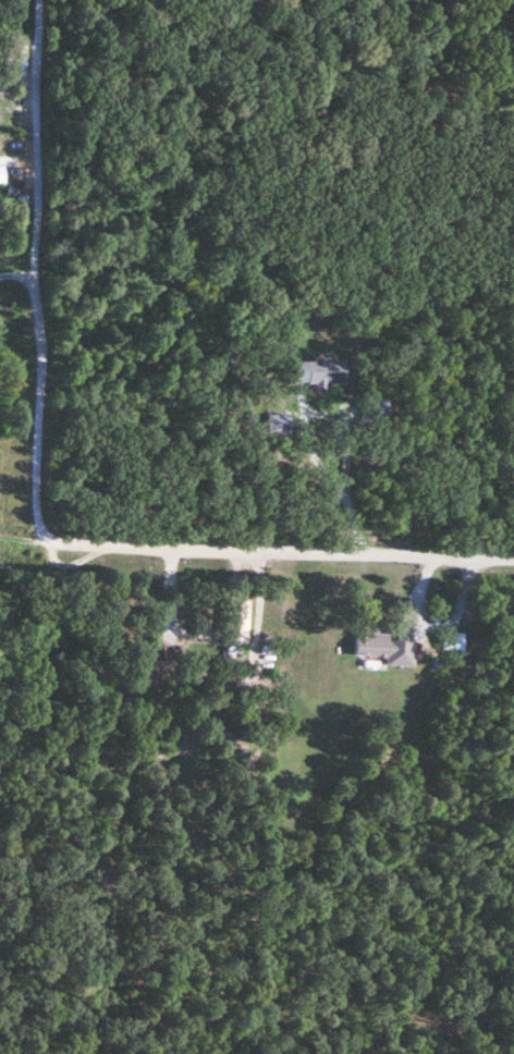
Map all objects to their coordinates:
road: (301, 441)
road: (30, 508)
road: (21, 541)
building: (231, 624)
building: (382, 649)

